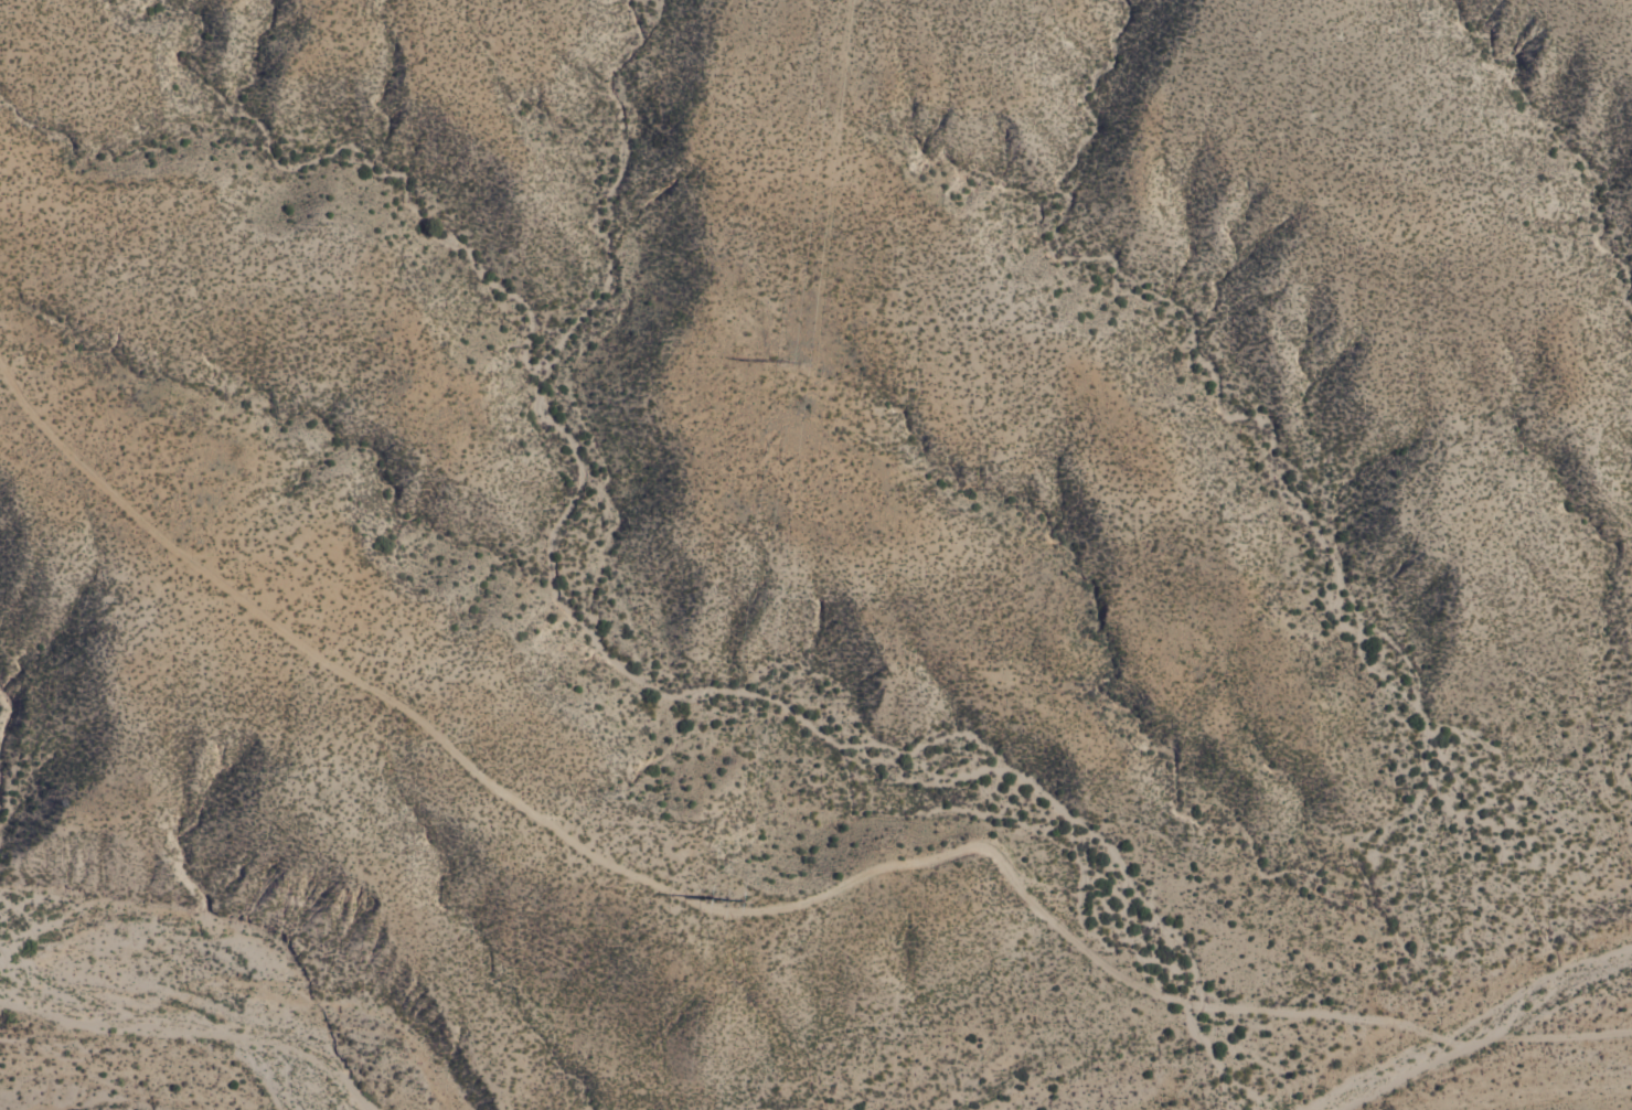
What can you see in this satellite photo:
power tower: (785, 360)
power tower: (721, 898)
road: (761, 901)

